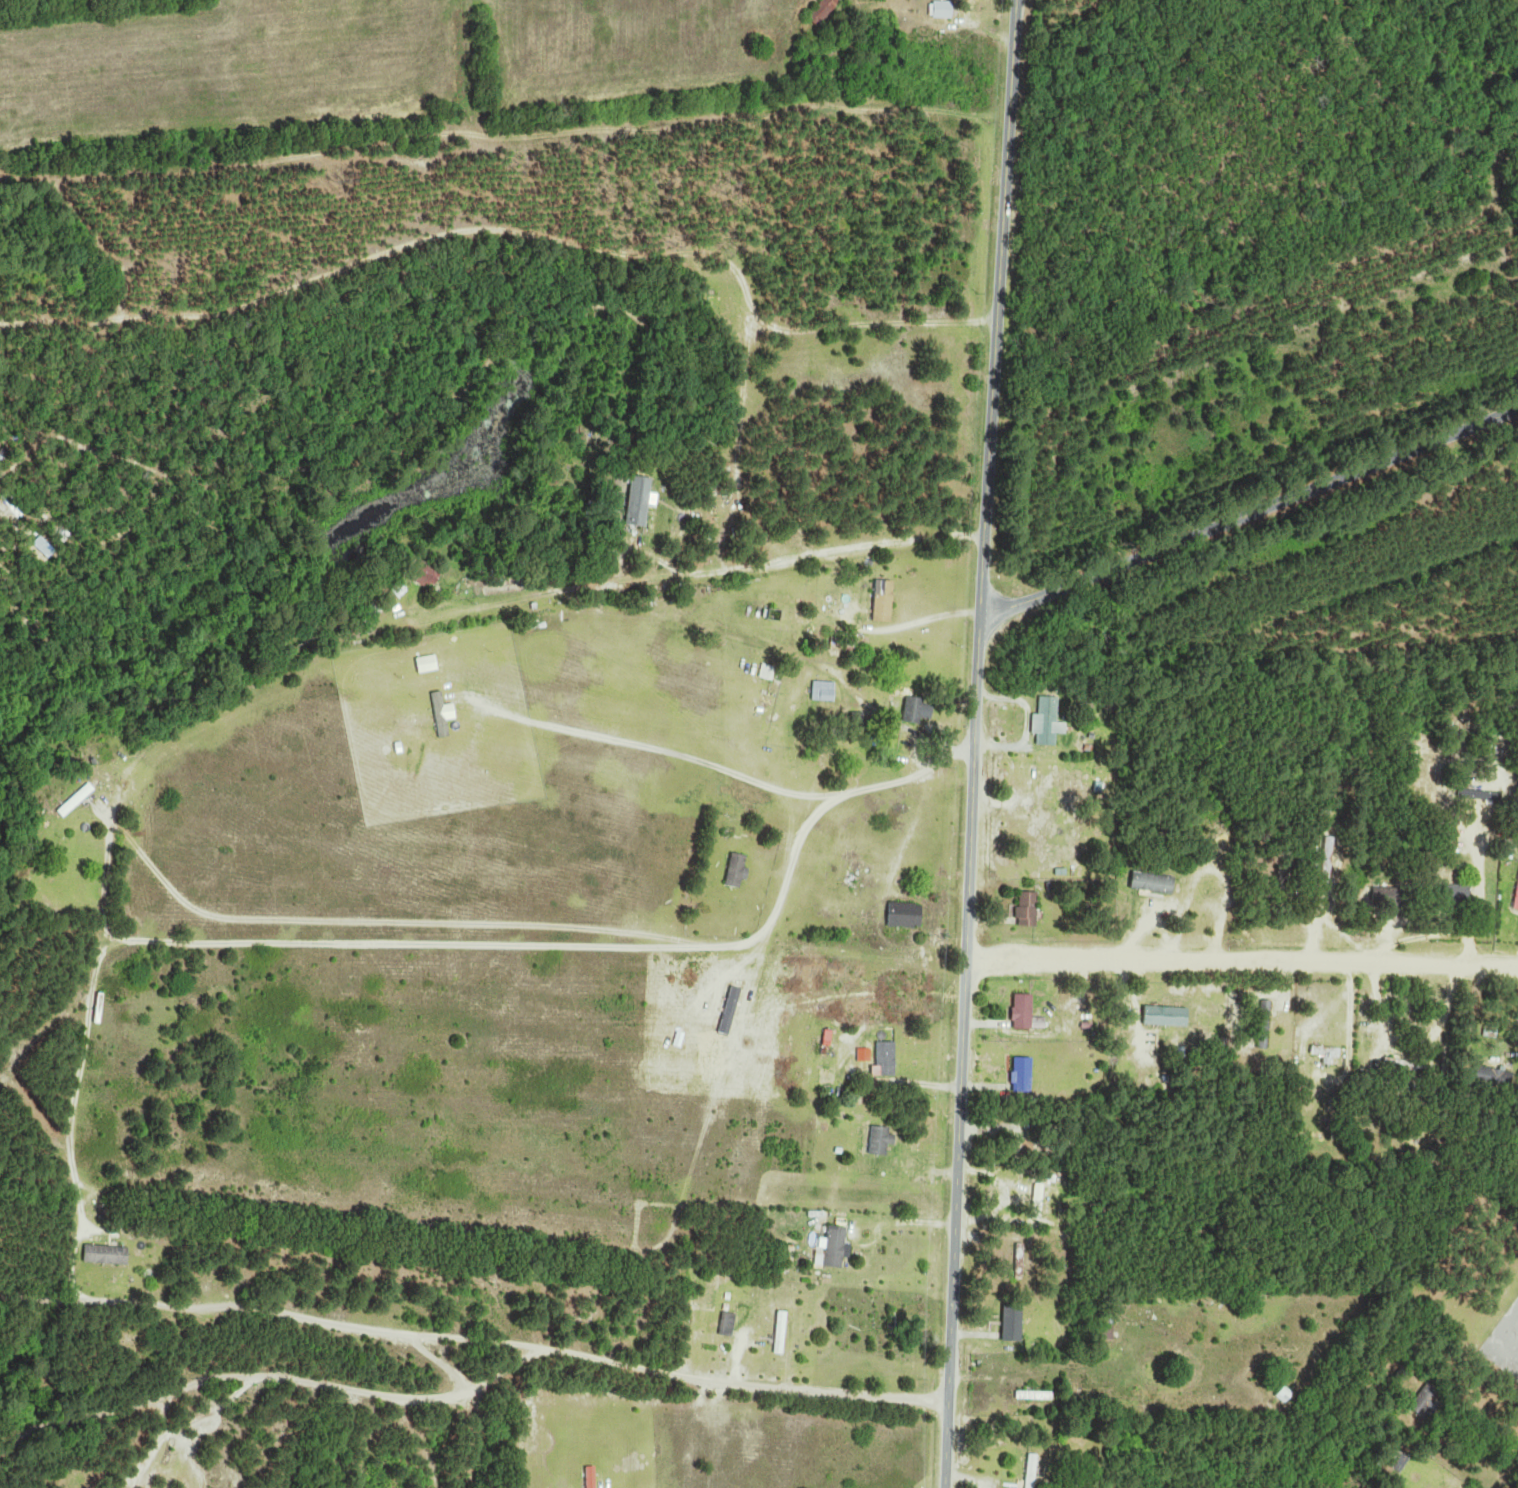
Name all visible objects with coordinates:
building: (947, 9)
building: (825, 11)
building: (641, 502)
road: (1249, 513)
building: (427, 576)
building: (399, 590)
building: (886, 602)
building: (367, 609)
road: (804, 628)
building: (841, 642)
building: (915, 711)
building: (1048, 722)
road: (974, 743)
road: (823, 788)
building: (1483, 796)
building: (77, 800)
building: (1220, 844)
building: (1331, 861)
building: (737, 870)
road: (105, 882)
building: (1154, 883)
road: (1470, 895)
building: (1395, 899)
building: (1516, 903)
building: (1031, 910)
building: (907, 916)
road: (409, 948)
road: (1241, 960)
building: (100, 1008)
building: (1024, 1010)
building: (1268, 1010)
building: (1327, 1052)
building: (1025, 1074)
building: (882, 1141)
road: (698, 1154)
road: (372, 1219)
building: (837, 1246)
building: (108, 1254)
building: (1016, 1323)
building: (885, 1325)
building: (783, 1332)
road: (479, 1342)
road: (635, 1369)
road: (269, 1384)
building: (1034, 1470)
building: (593, 1477)

